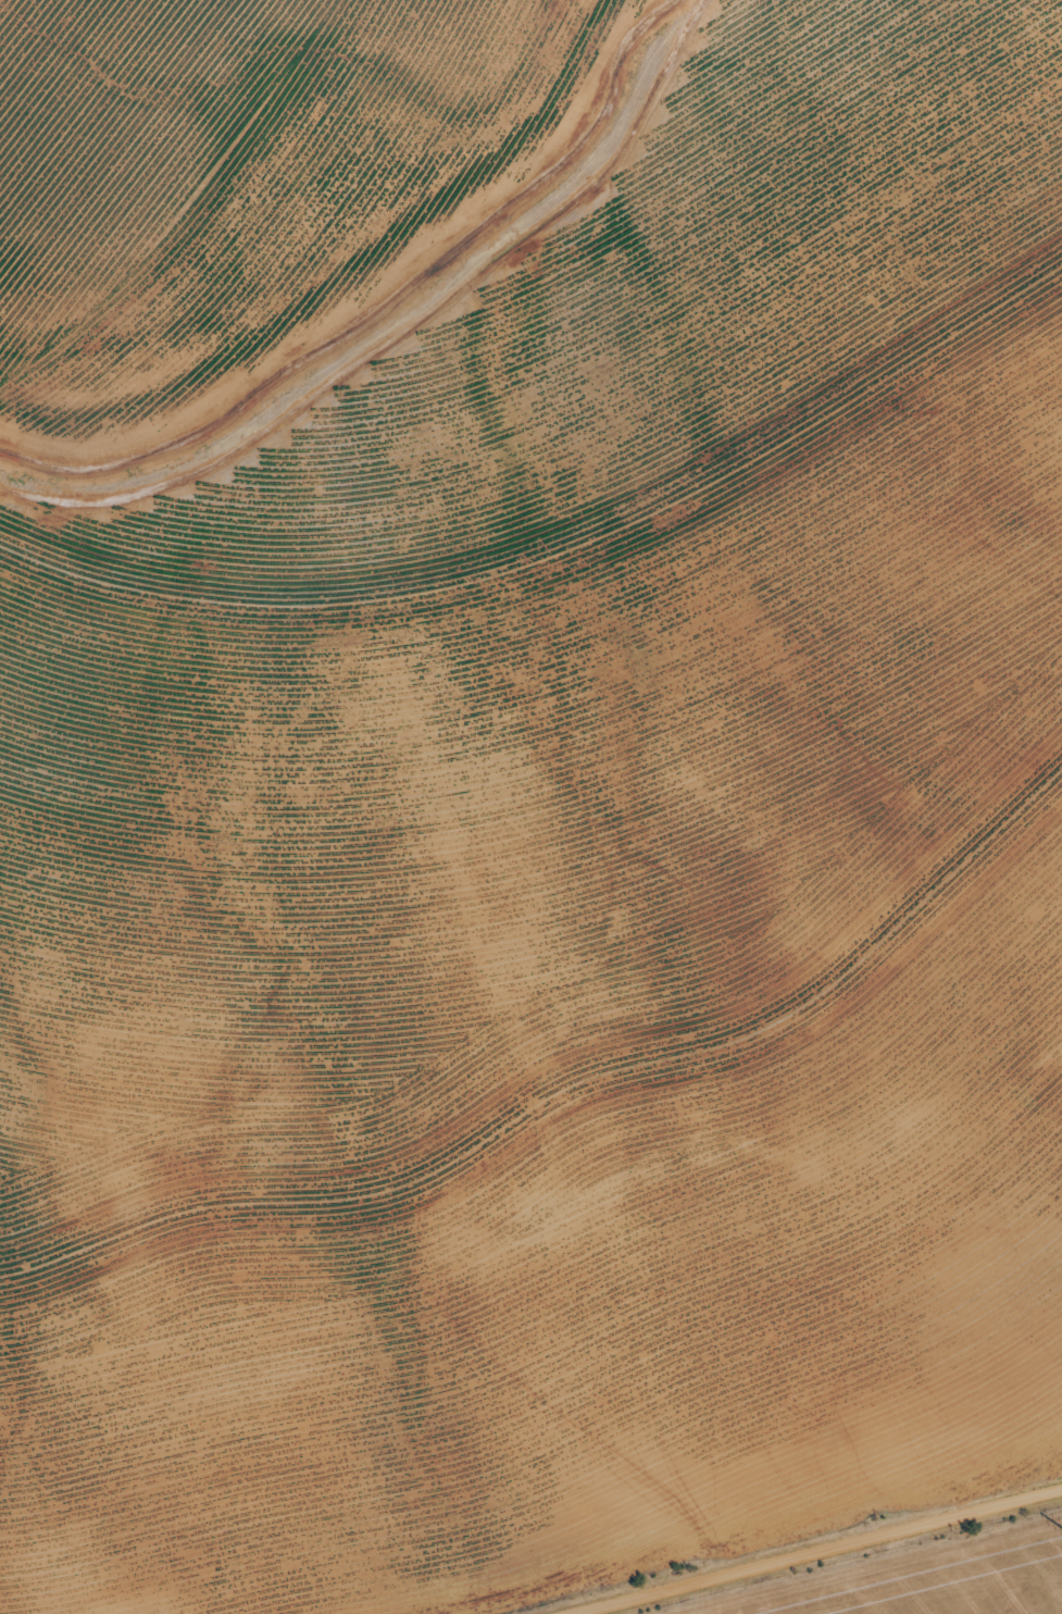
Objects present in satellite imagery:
road: (855, 1562)

